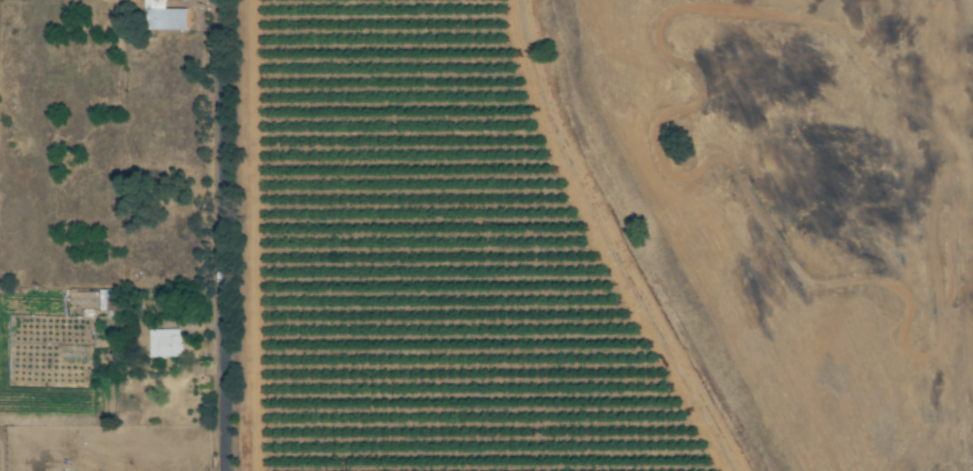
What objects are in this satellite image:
building: (165, 16)
road: (219, 235)
building: (163, 343)

